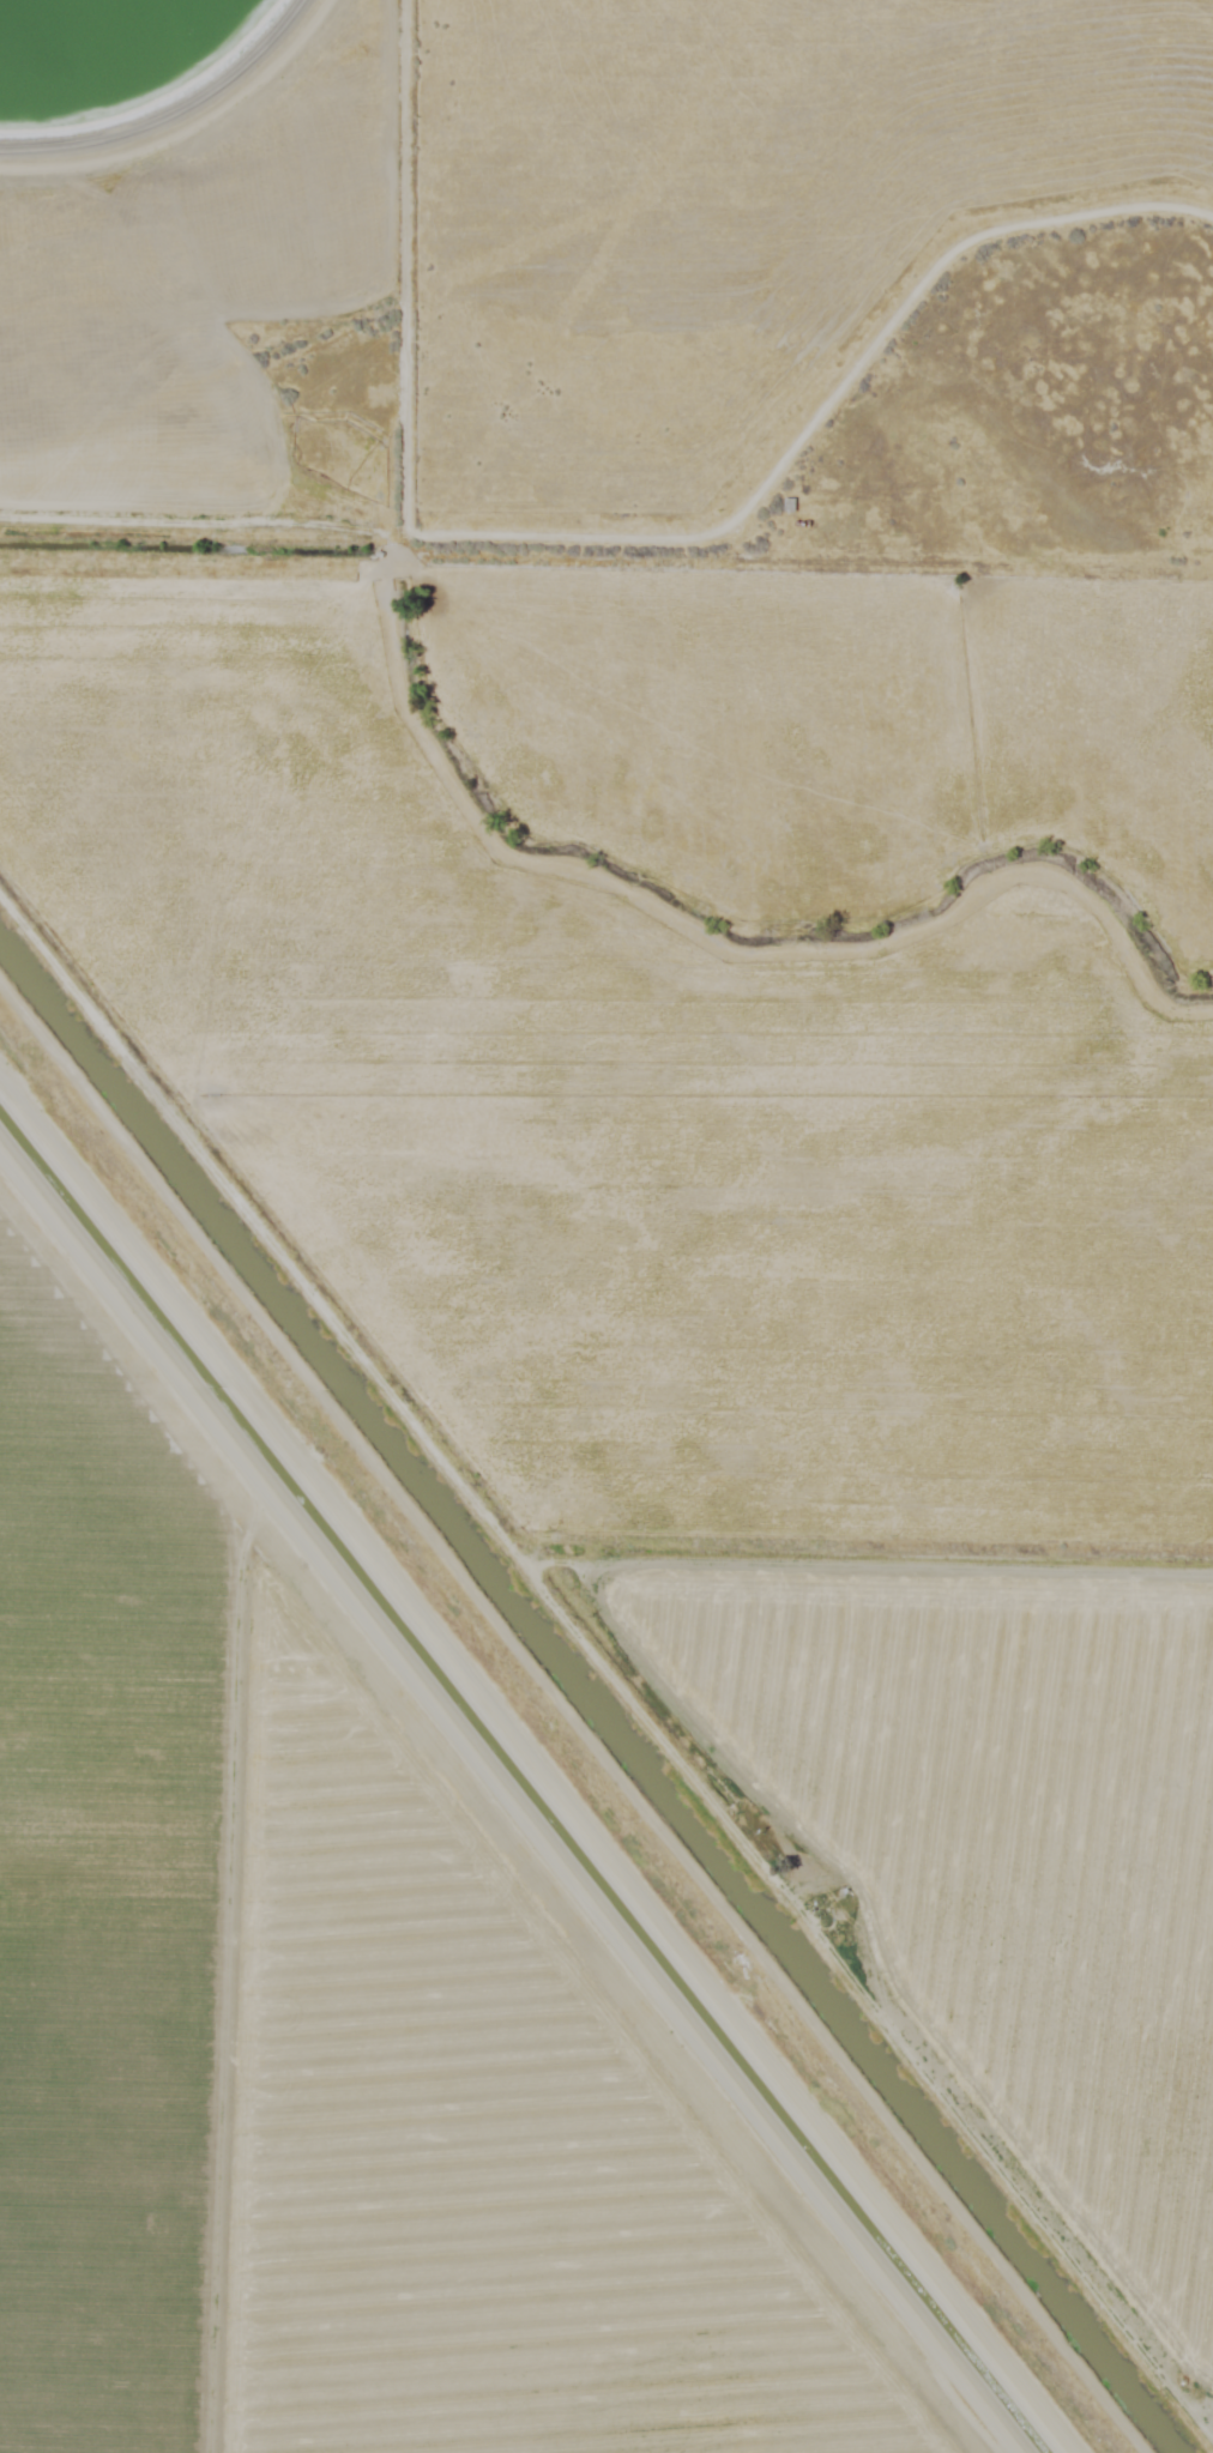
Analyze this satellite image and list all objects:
crop: (595, 1276)
road: (532, 1770)
road: (1073, 1945)

